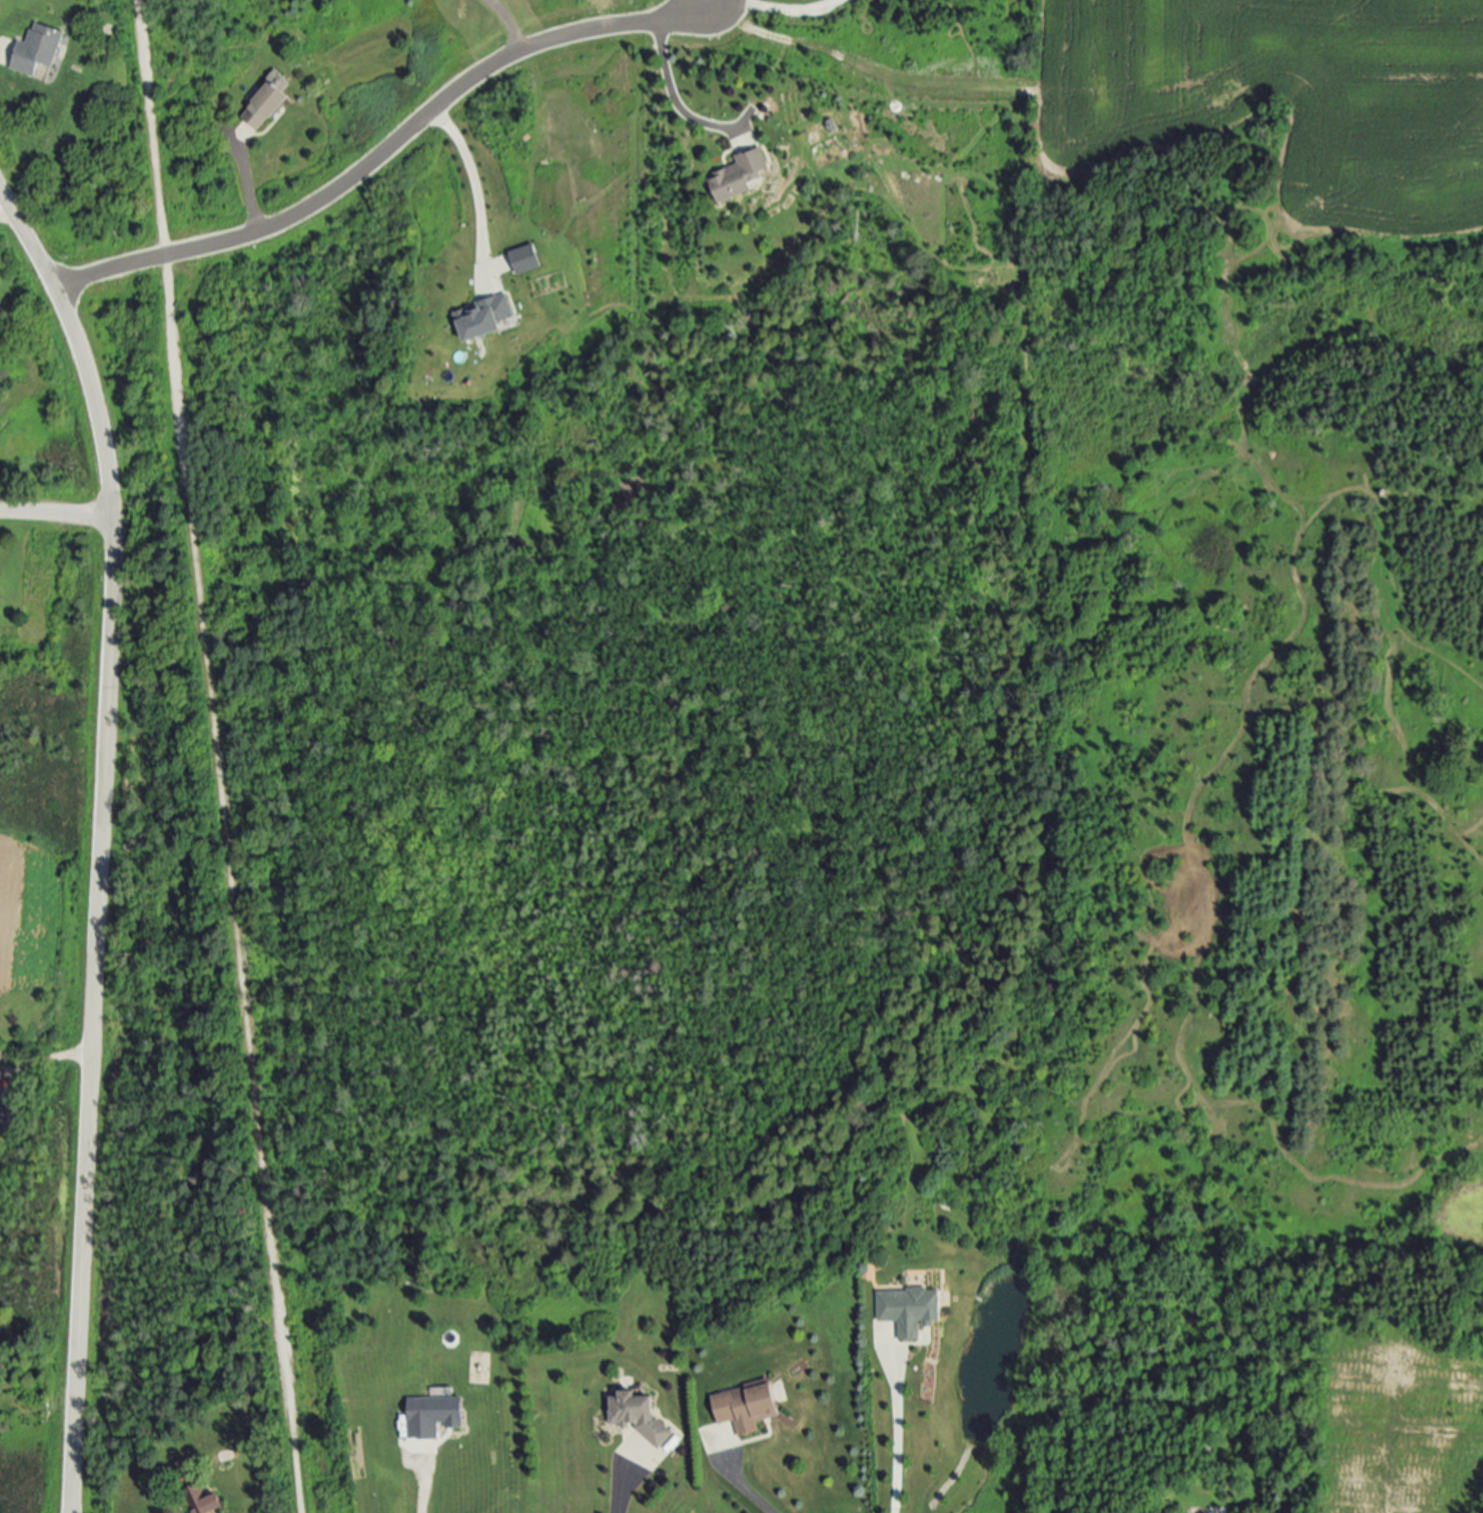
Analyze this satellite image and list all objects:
road: (774, 8)
road: (510, 21)
building: (38, 54)
road: (673, 95)
building: (265, 107)
road: (388, 151)
building: (740, 175)
road: (475, 181)
road: (250, 188)
road: (7, 212)
building: (510, 264)
building: (486, 318)
road: (58, 514)
building: (0, 585)
road: (217, 756)
road: (102, 837)
building: (3, 1058)
road: (49, 1064)
building: (8, 1120)
building: (907, 1305)
building: (747, 1407)
building: (436, 1414)
building: (640, 1418)
road: (1441, 1433)
road: (886, 1439)
road: (425, 1484)
road: (620, 1489)
road: (748, 1492)
building: (202, 1501)

